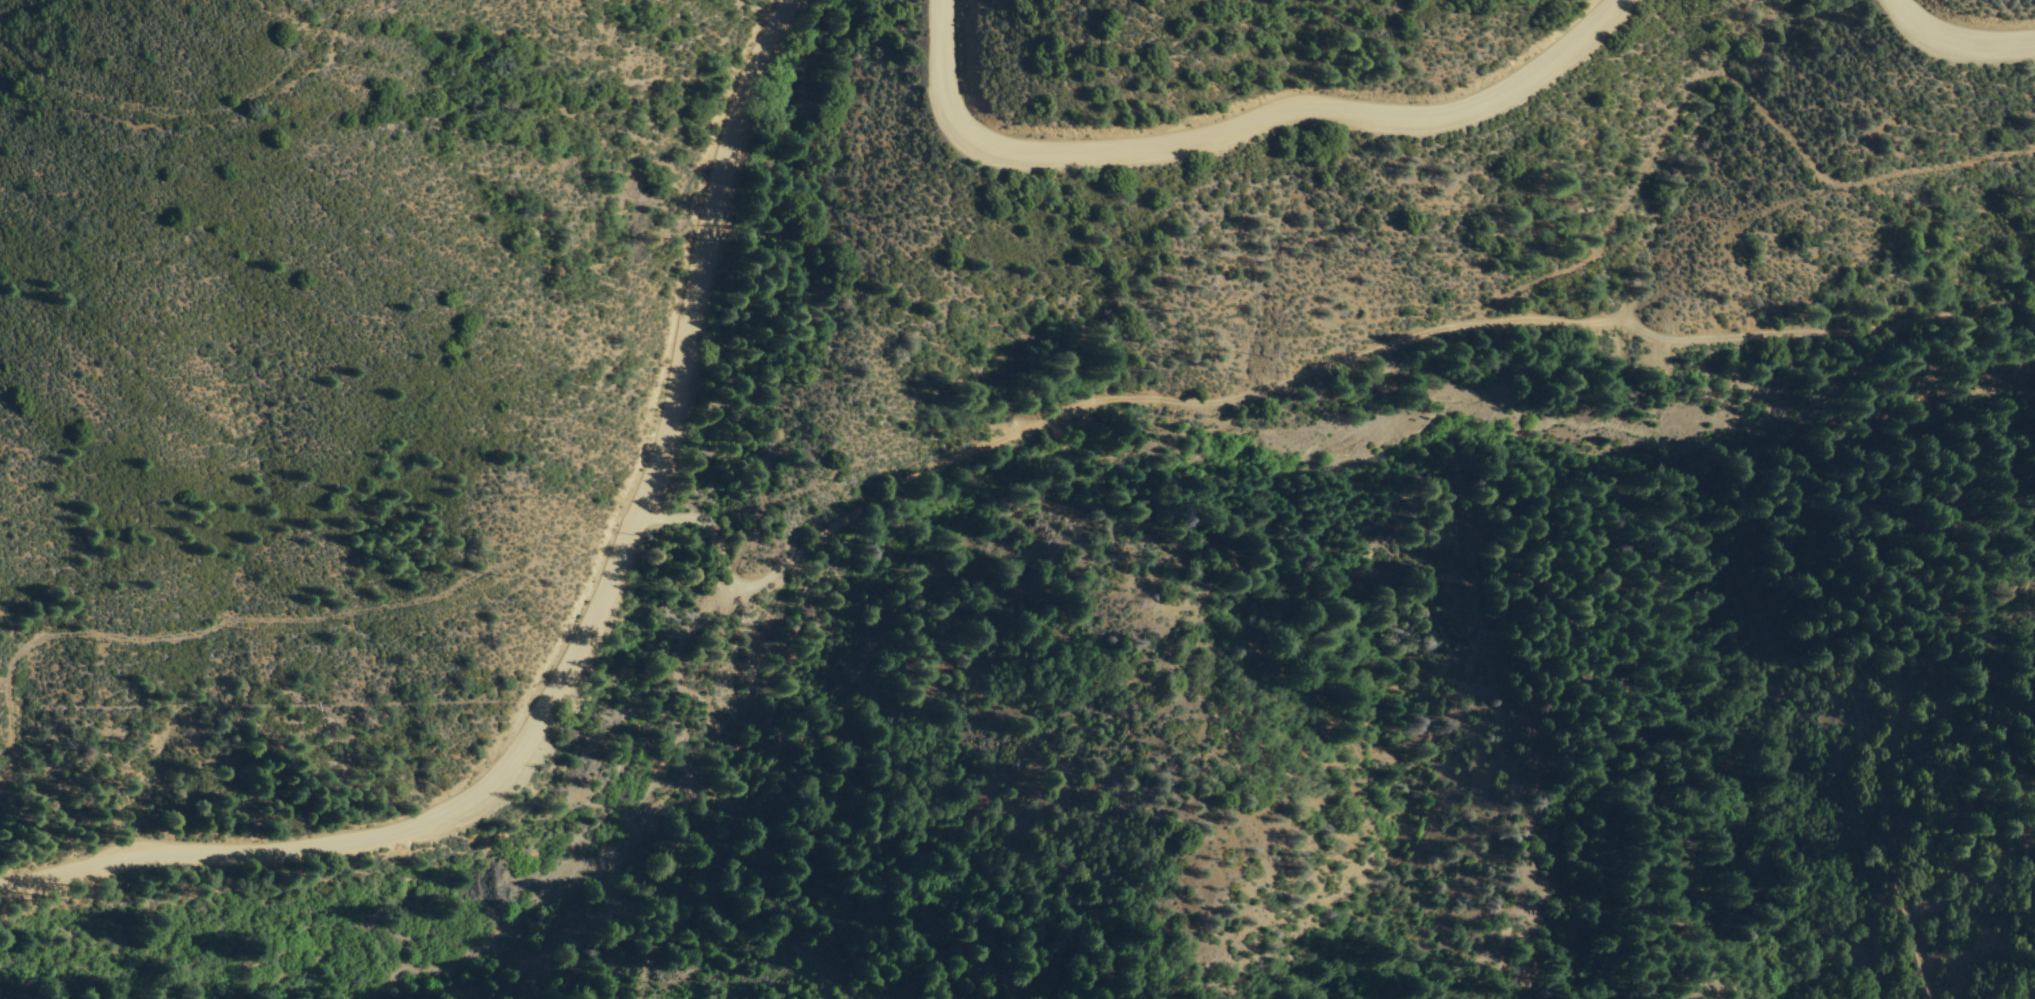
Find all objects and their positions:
road: (1950, 46)
road: (1241, 131)
road: (1375, 349)
road: (708, 528)
road: (701, 616)
road: (578, 640)

